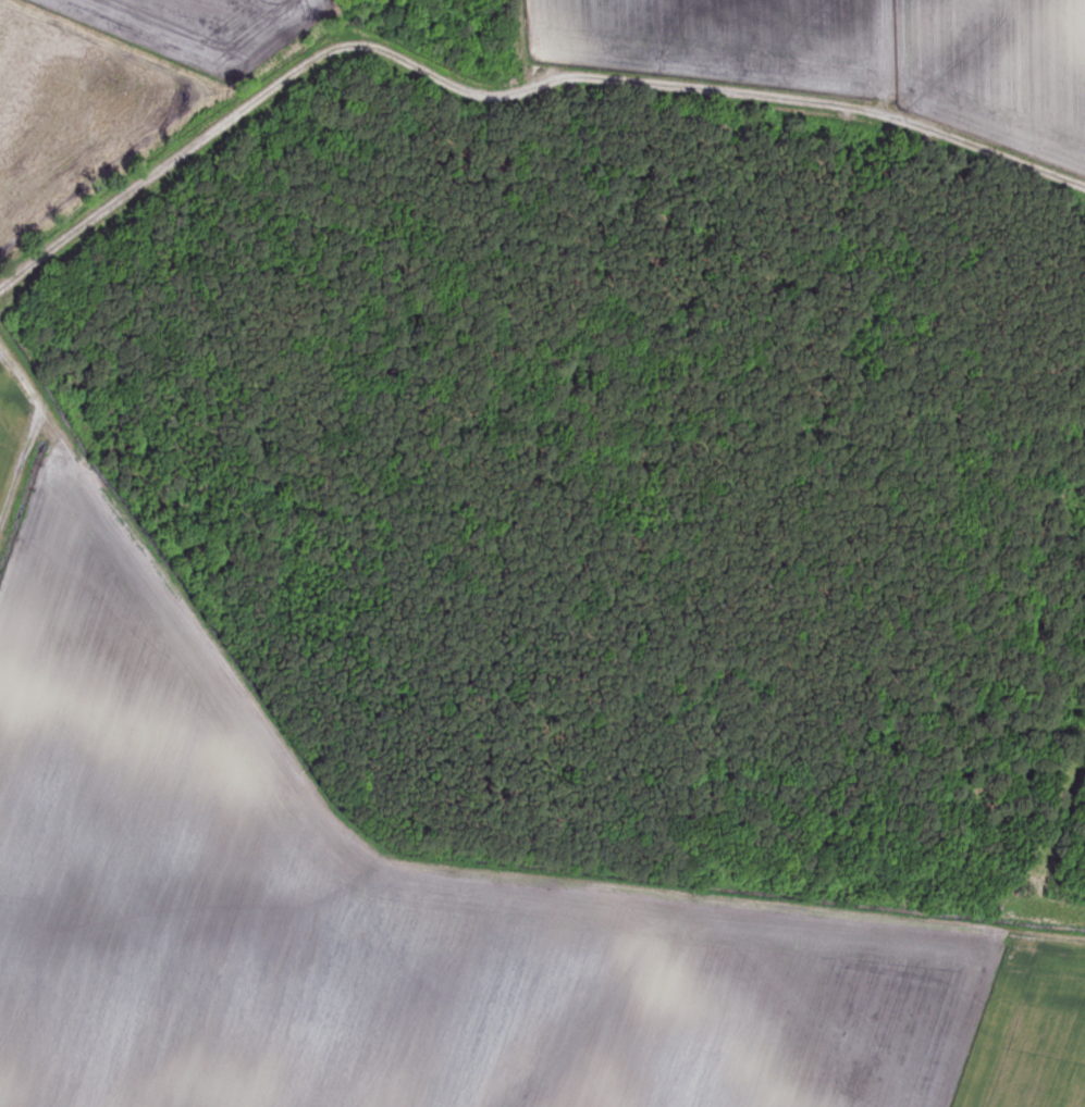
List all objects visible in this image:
road: (770, 119)

